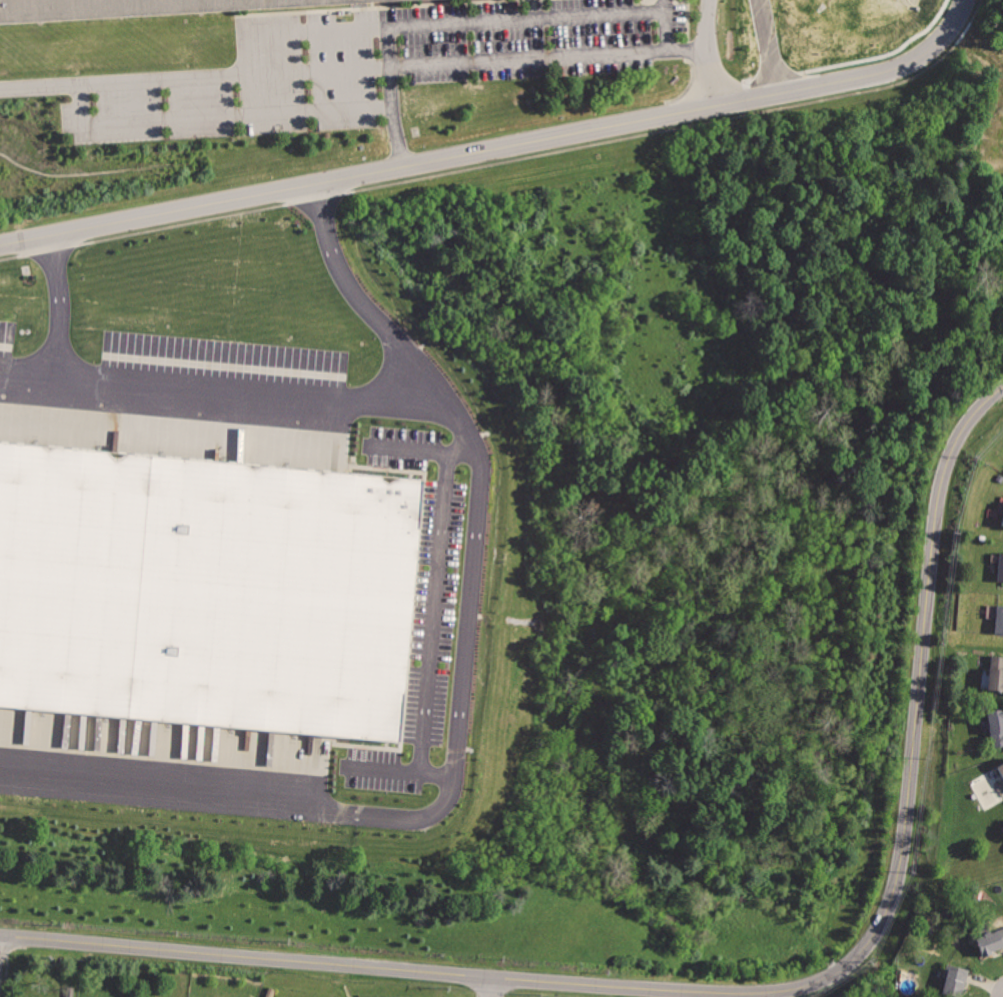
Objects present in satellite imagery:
building: (121, 7)
road: (433, 22)
road: (665, 25)
road: (387, 46)
road: (761, 51)
road: (708, 56)
road: (353, 68)
road: (219, 113)
road: (392, 119)
road: (503, 153)
road: (58, 307)
road: (215, 390)
road: (408, 449)
building: (1002, 521)
building: (1000, 567)
building: (205, 590)
road: (434, 599)
building: (999, 621)
building: (995, 673)
road: (461, 696)
building: (996, 726)
building: (1000, 767)
road: (398, 769)
building: (1001, 785)
building: (991, 940)
building: (954, 979)
road: (490, 987)
road: (734, 994)

